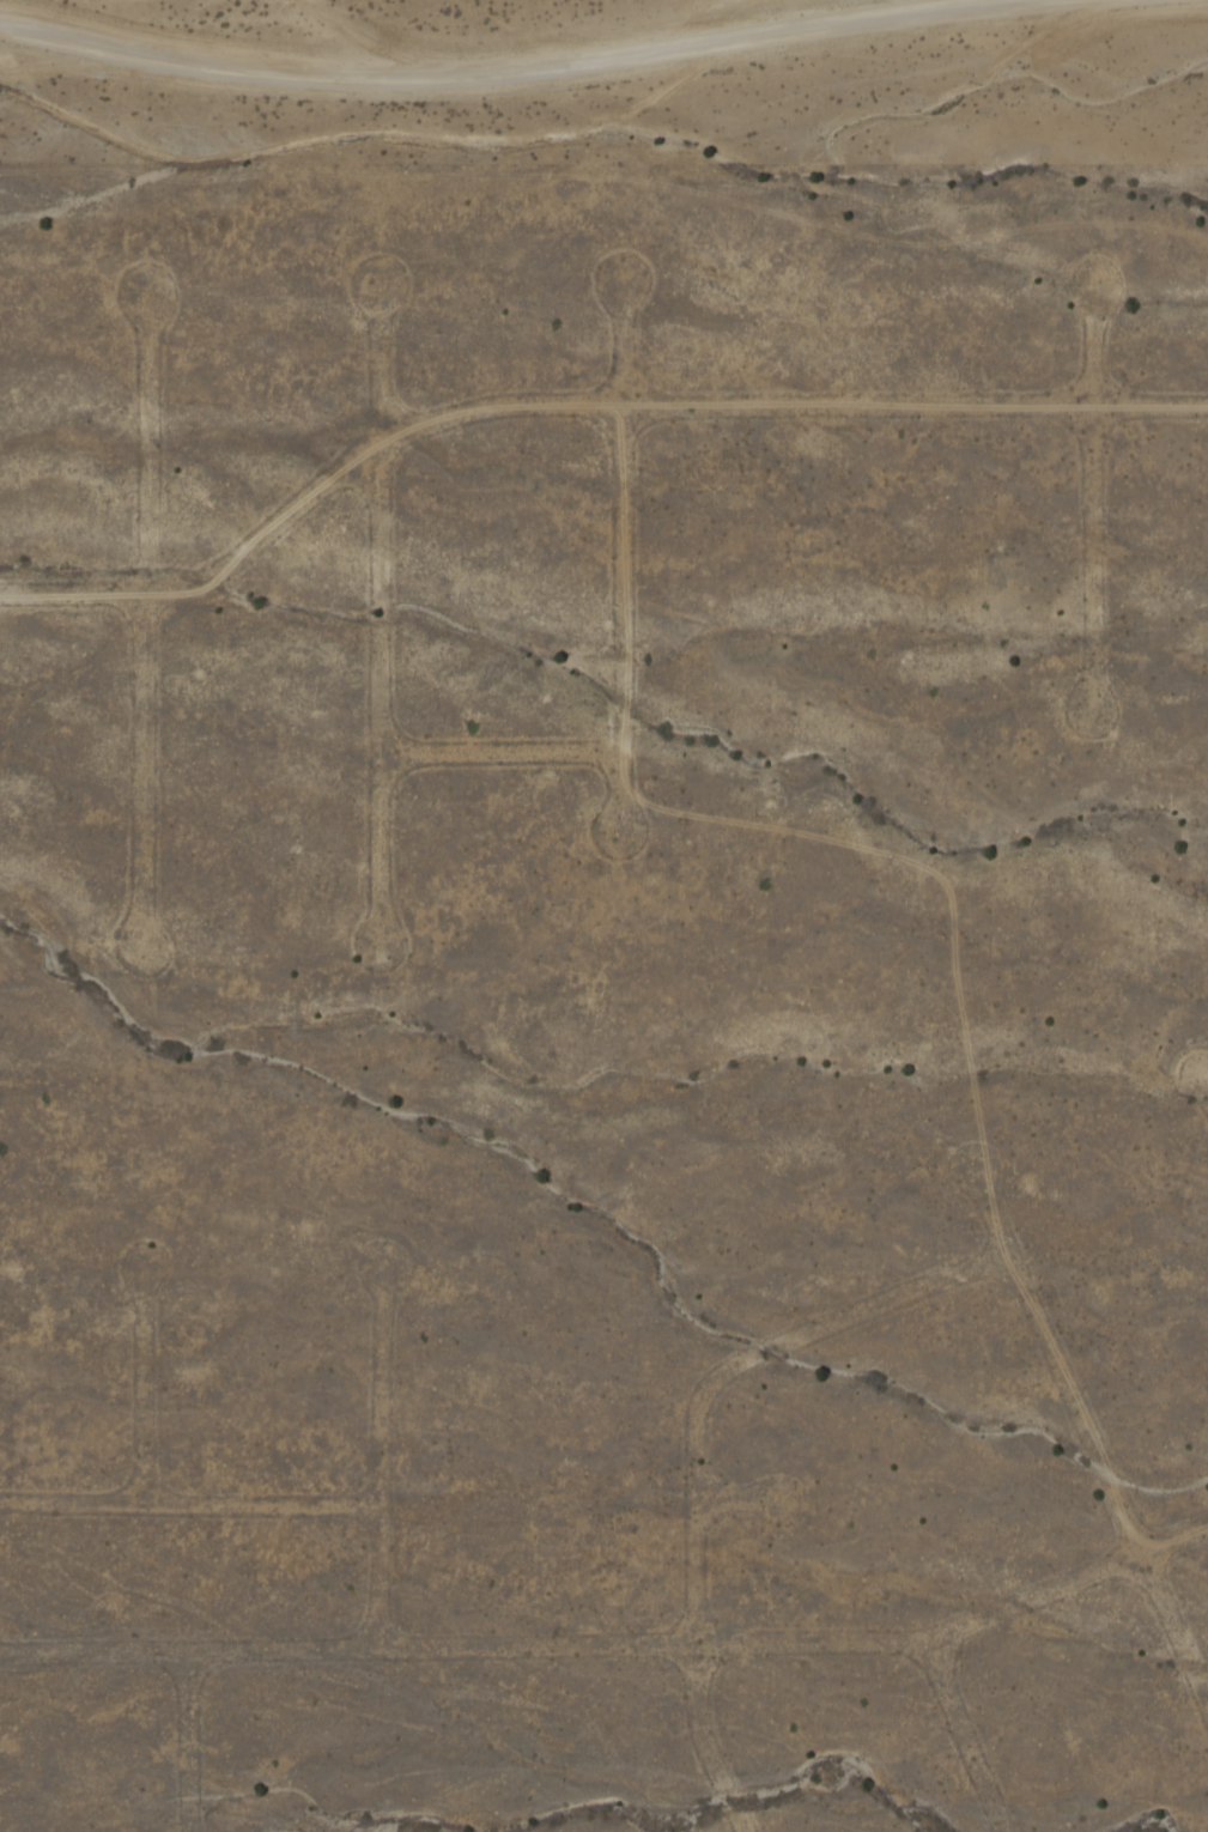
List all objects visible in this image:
road: (538, 67)

